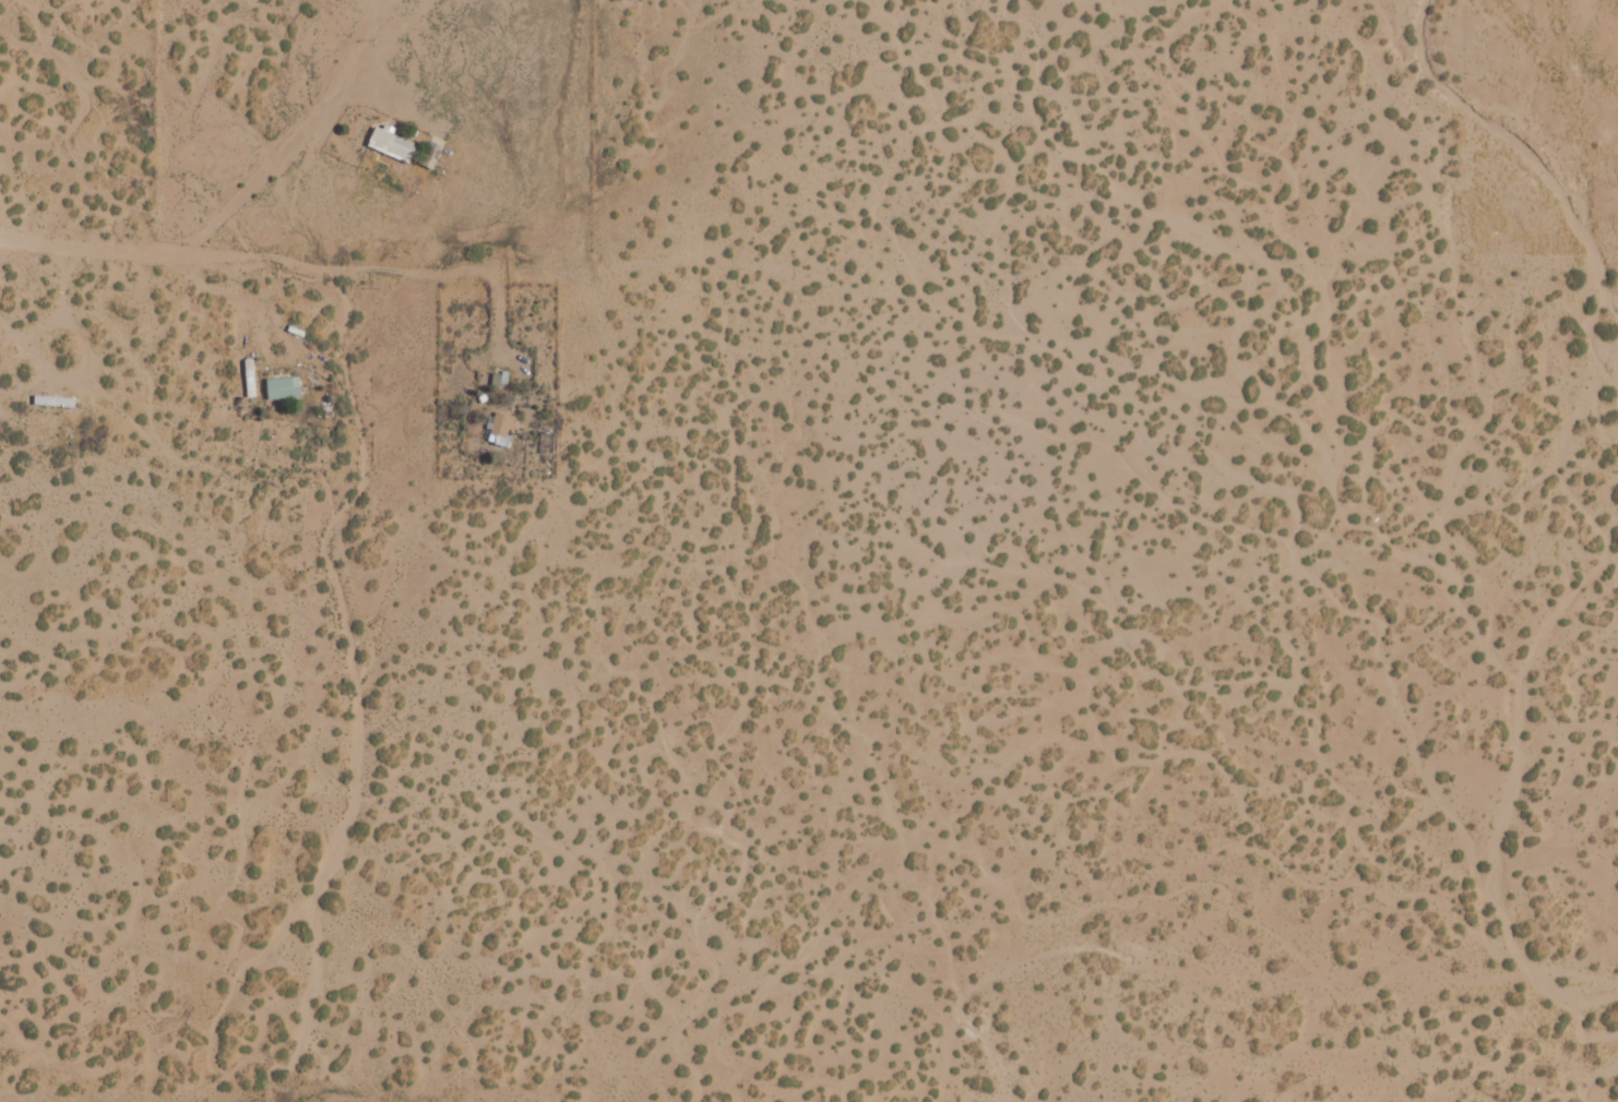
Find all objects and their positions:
road: (304, 137)
building: (393, 143)
road: (246, 256)
building: (285, 387)

